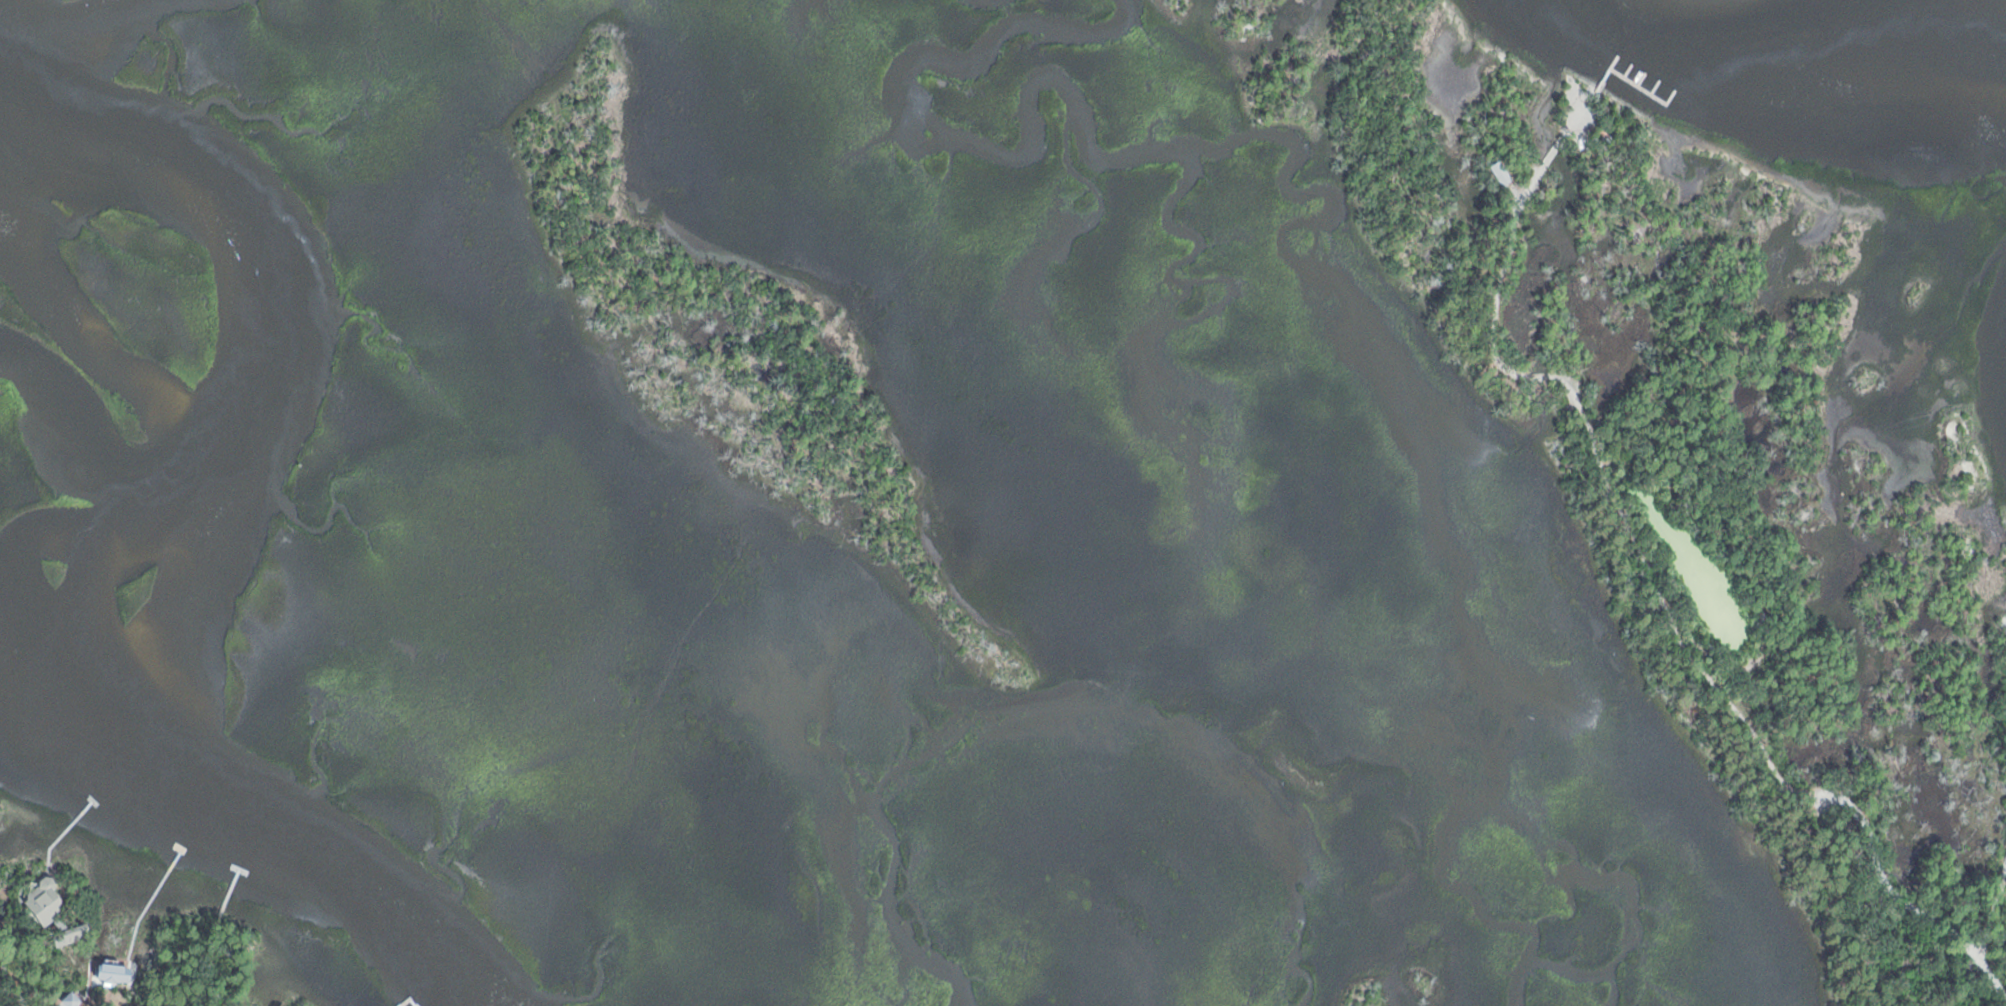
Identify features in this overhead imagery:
road: (1579, 115)
road: (1554, 150)
building: (1499, 171)
road: (1670, 617)
building: (45, 900)
building: (74, 933)
building: (116, 972)
building: (73, 997)

